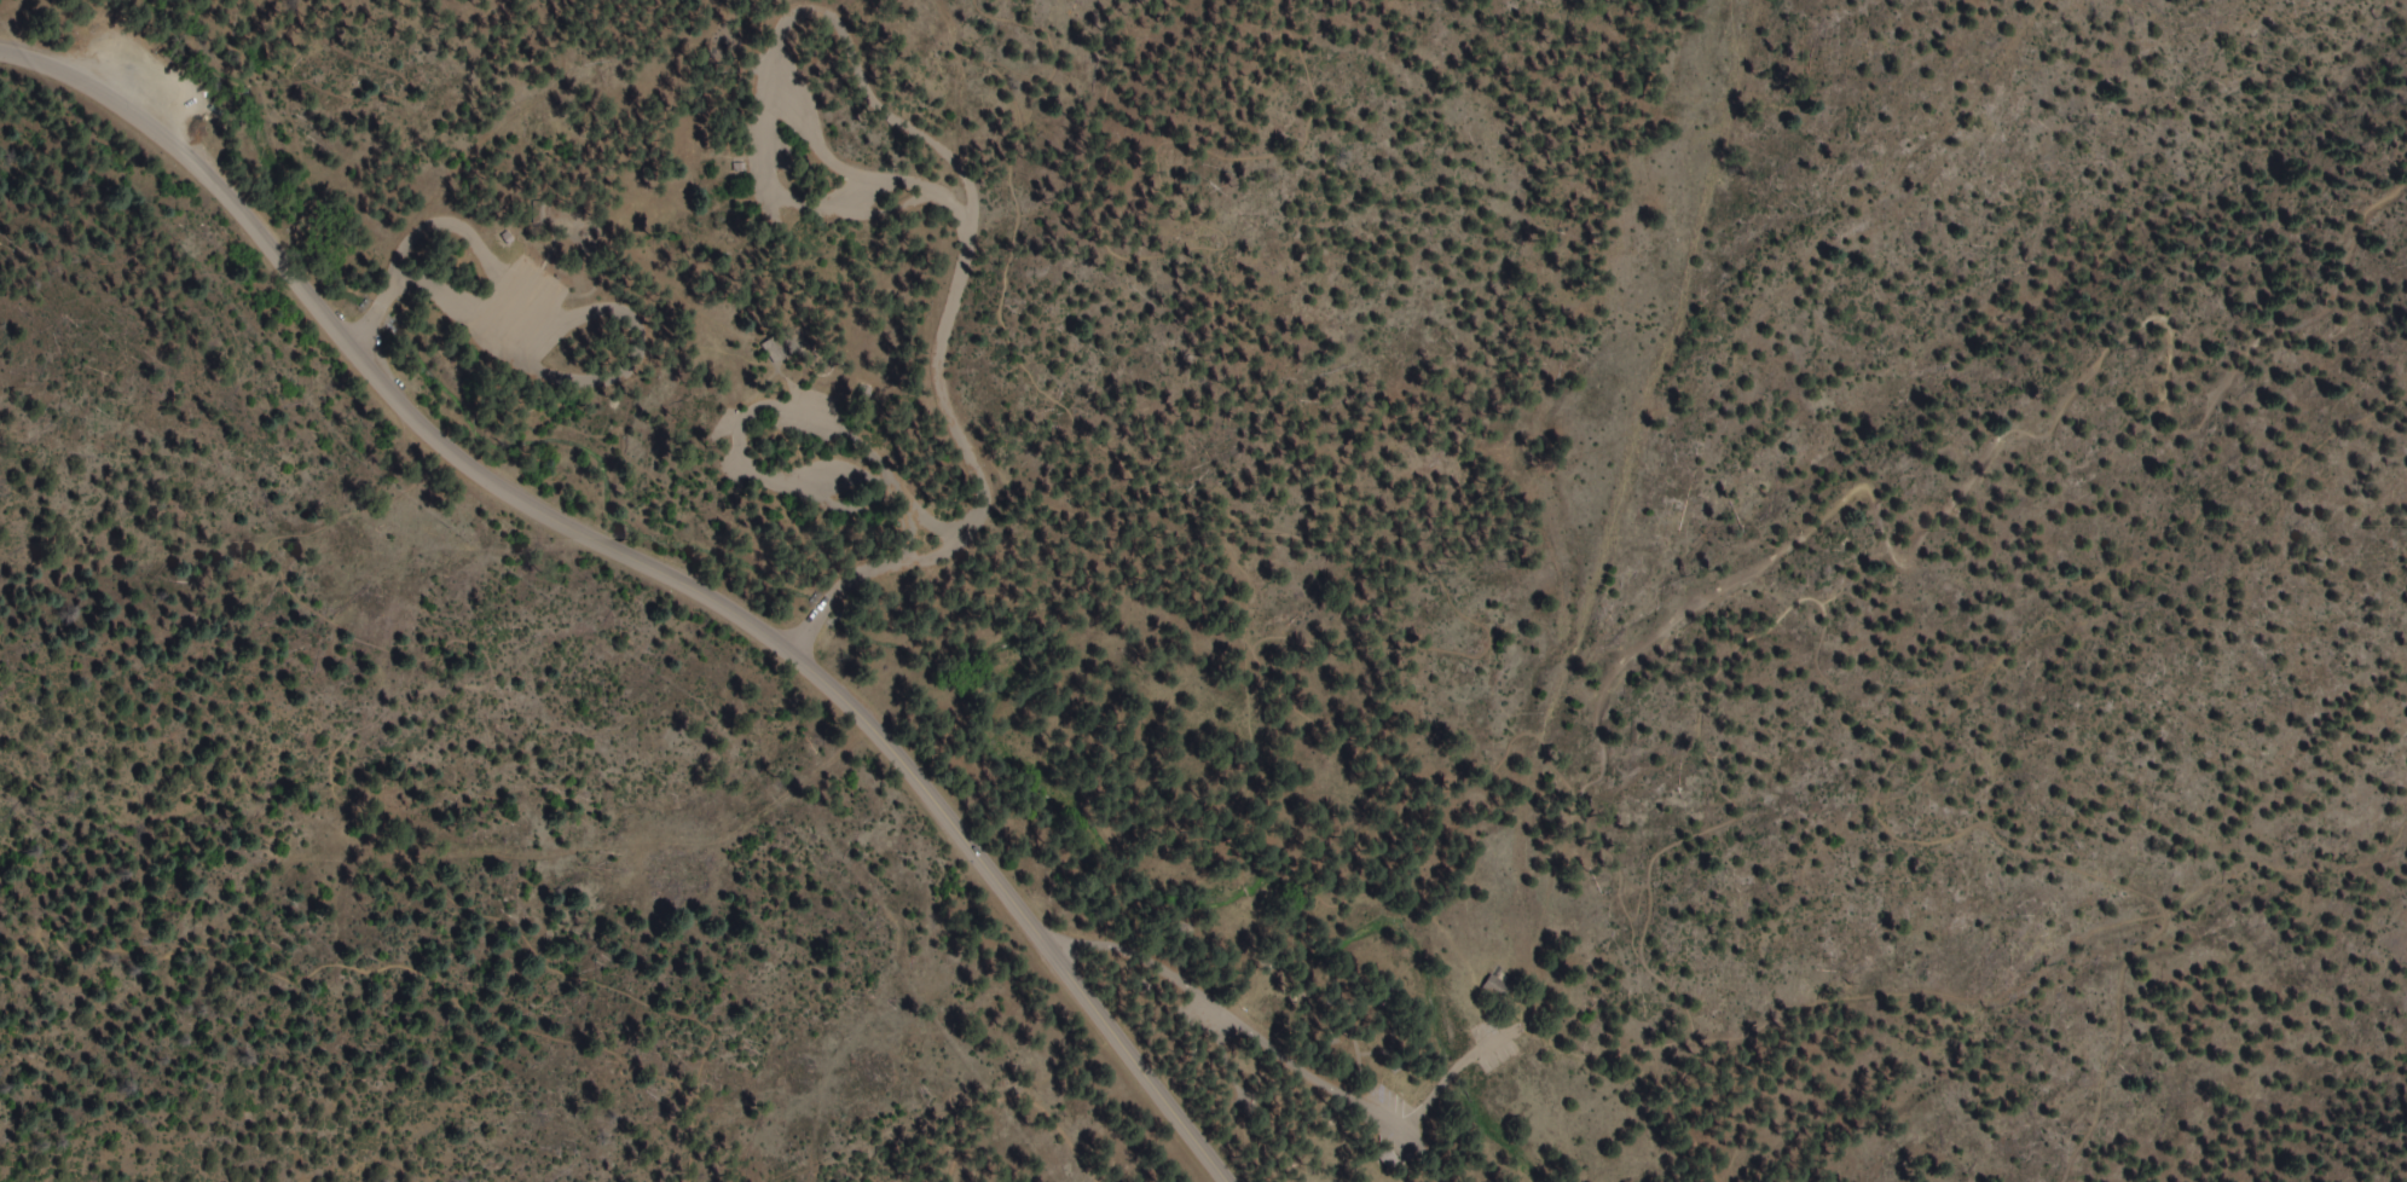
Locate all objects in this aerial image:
road: (973, 76)
road: (474, 115)
road: (1673, 297)
road: (530, 510)
road: (1553, 573)
road: (1607, 585)
road: (397, 697)
road: (290, 939)
building: (1495, 986)
road: (2251, 990)
road: (1269, 1037)
road: (1139, 1076)
road: (1011, 1082)
building: (1385, 1157)

